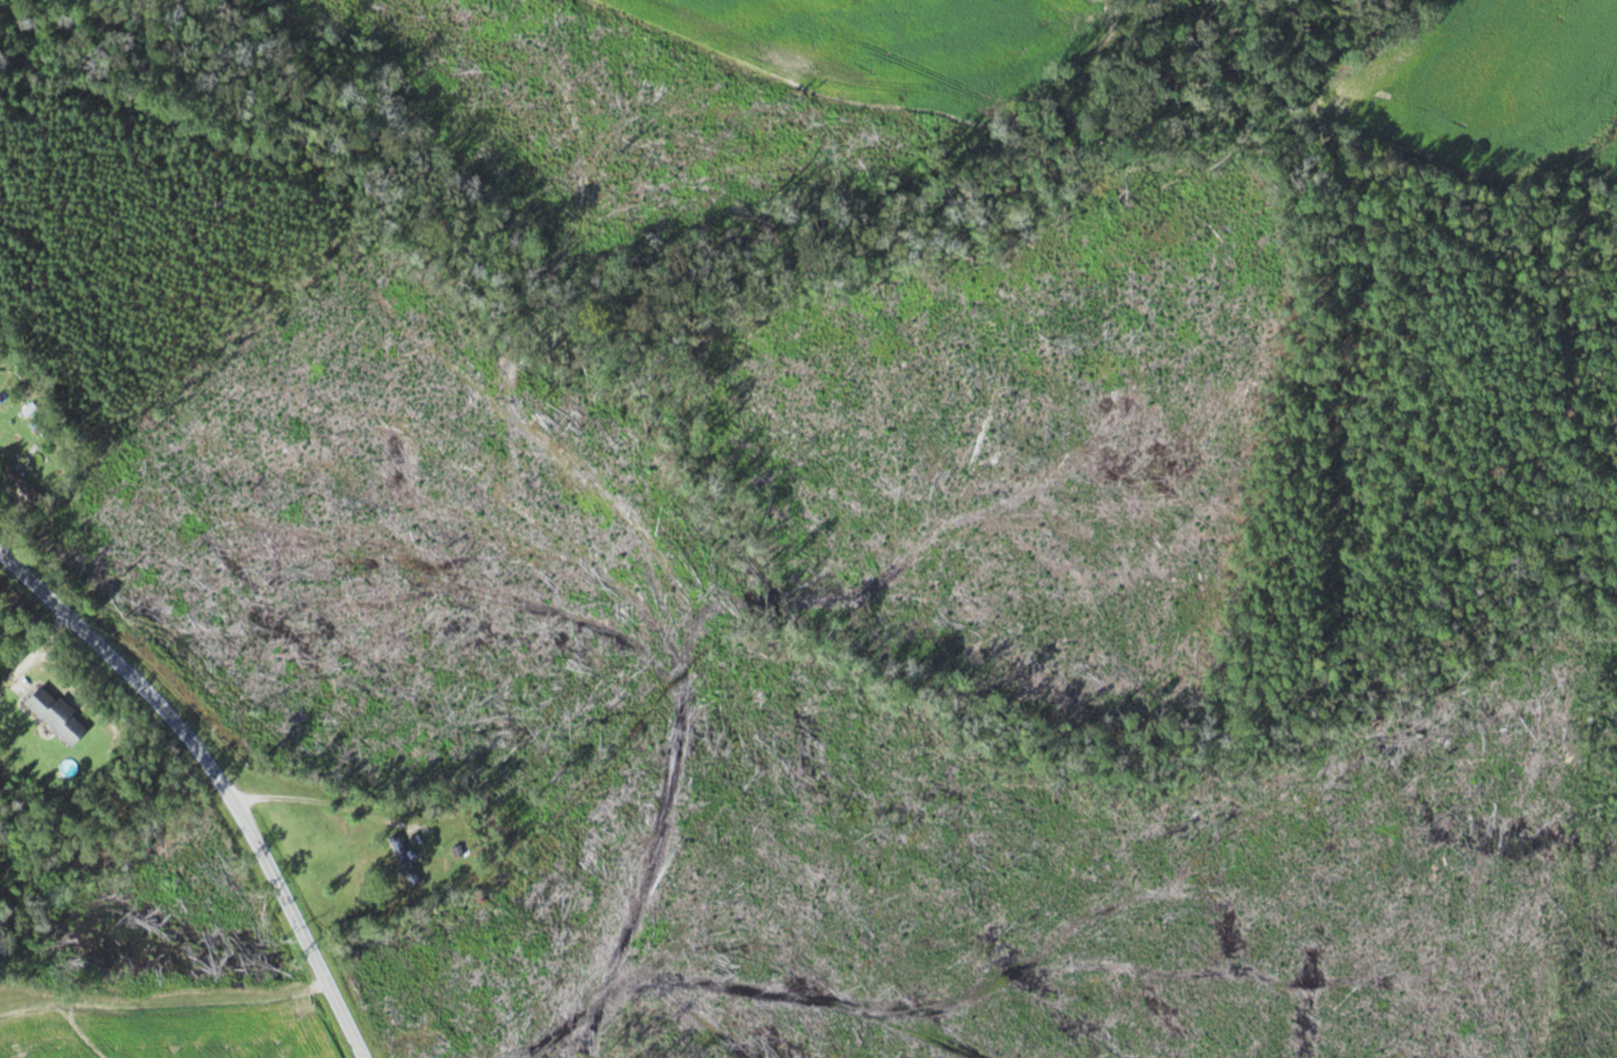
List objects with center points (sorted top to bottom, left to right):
river: (805, 305)
building: (56, 716)
road: (217, 779)
building: (405, 861)

